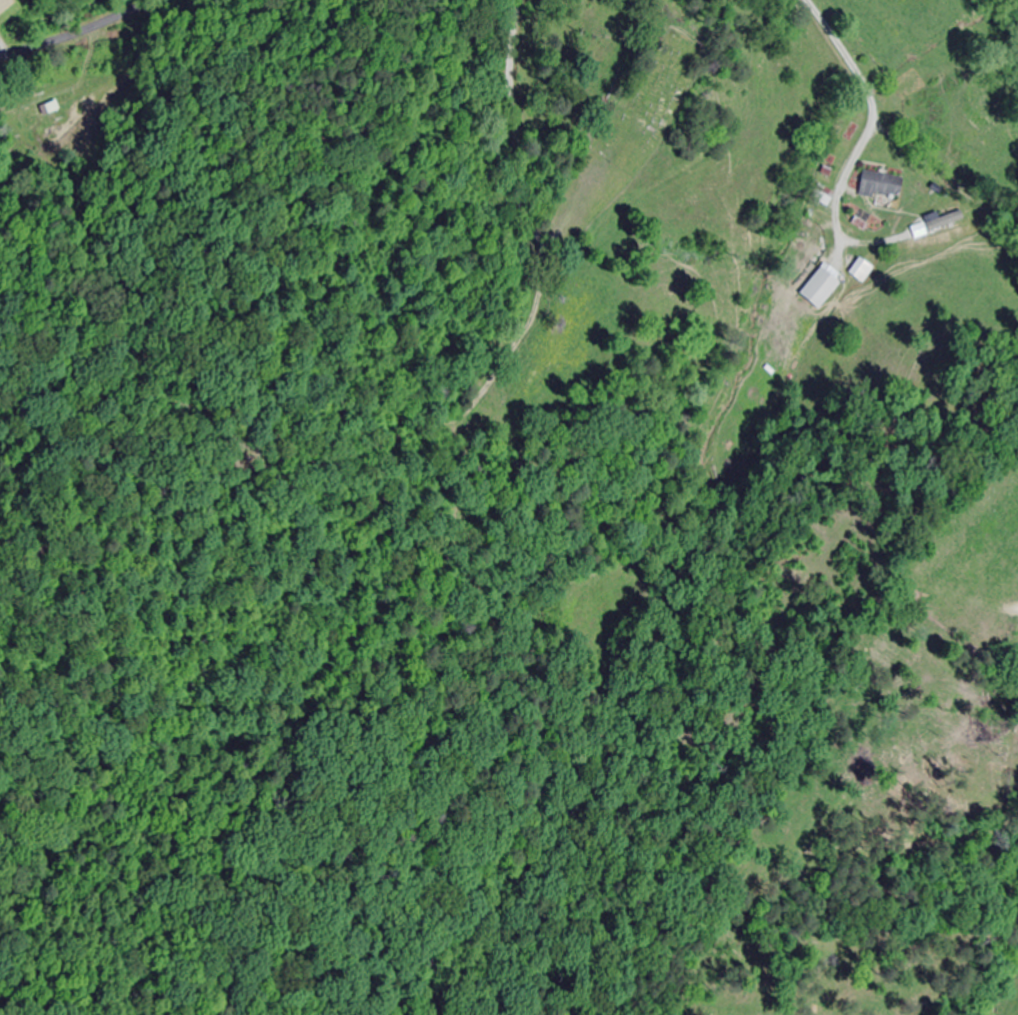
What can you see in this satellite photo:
road: (78, 32)
park: (648, 103)
building: (882, 185)
building: (862, 270)
building: (822, 288)

